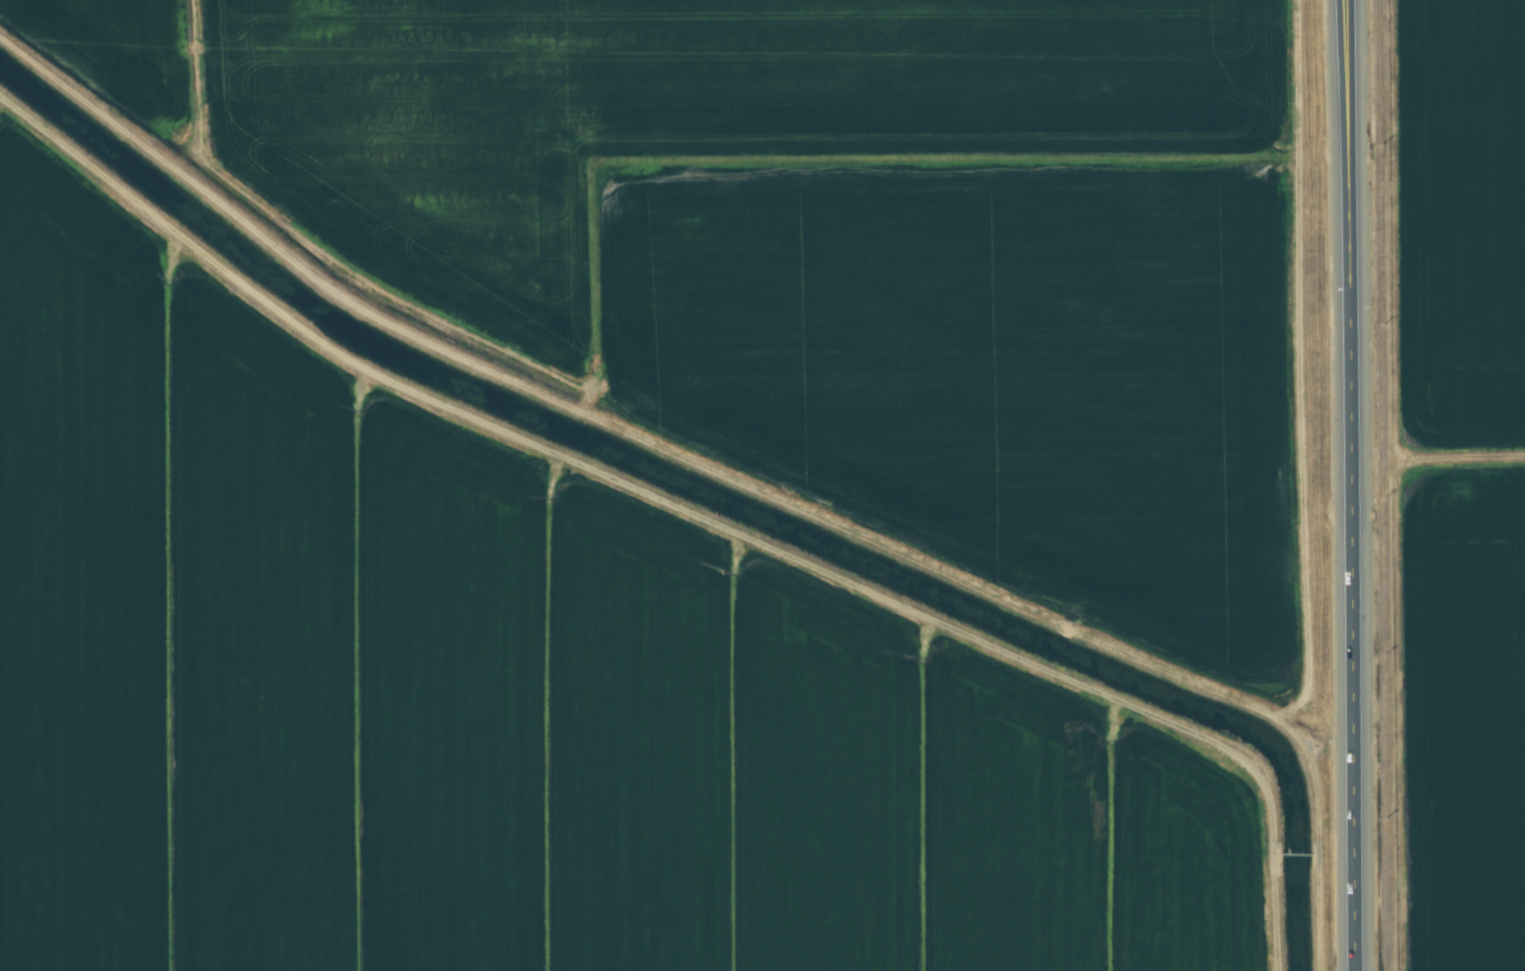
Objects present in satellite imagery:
road: (1350, 485)

